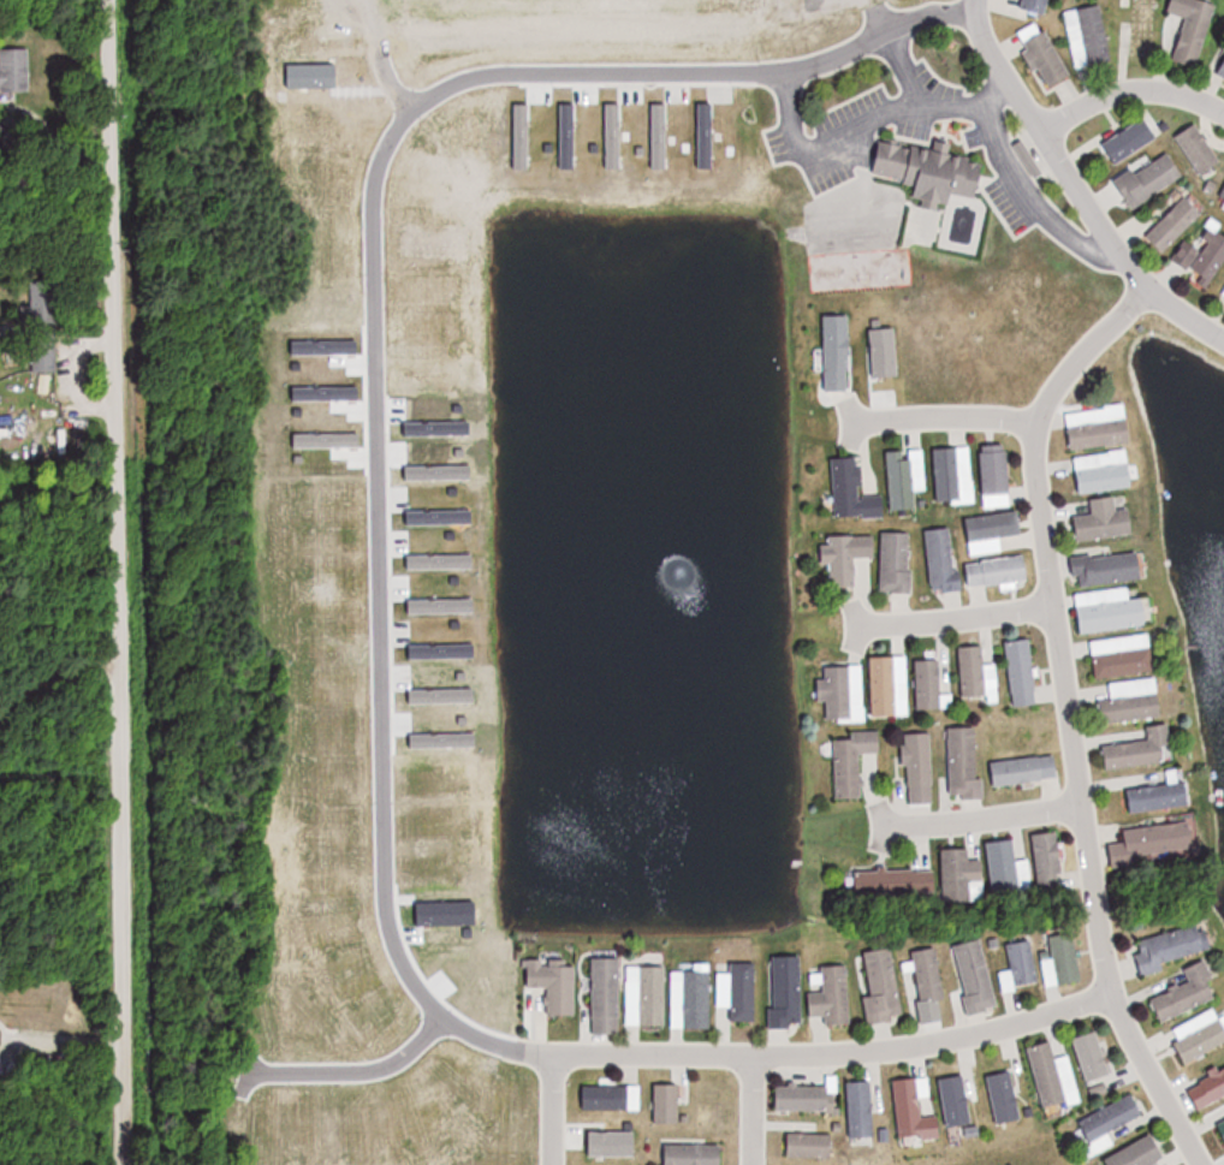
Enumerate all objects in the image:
road: (953, 6)
road: (975, 6)
building: (1036, 6)
building: (1143, 28)
building: (1193, 28)
building: (1088, 36)
building: (1042, 54)
building: (13, 70)
building: (1220, 70)
road: (908, 79)
road: (1129, 91)
building: (1130, 141)
road: (809, 144)
building: (1198, 149)
road: (1054, 154)
building: (931, 172)
building: (1149, 179)
road: (1023, 182)
building: (1222, 194)
building: (1175, 224)
building: (1204, 252)
building: (1223, 295)
road: (1186, 314)
building: (42, 325)
road: (346, 329)
road: (945, 417)
building: (1099, 427)
building: (1104, 470)
building: (953, 474)
building: (996, 475)
building: (904, 476)
building: (854, 491)
building: (1106, 518)
building: (992, 529)
building: (849, 557)
building: (943, 559)
building: (896, 561)
building: (1109, 566)
building: (997, 570)
road: (112, 582)
building: (1111, 608)
road: (957, 617)
building: (1123, 654)
road: (44, 659)
building: (973, 671)
building: (1022, 671)
building: (929, 683)
building: (883, 685)
building: (843, 691)
building: (1131, 701)
road: (1068, 717)
building: (1142, 749)
building: (854, 761)
building: (964, 765)
building: (919, 767)
building: (1023, 769)
building: (1161, 795)
road: (984, 818)
building: (1157, 842)
building: (1048, 861)
building: (1004, 867)
building: (961, 875)
building: (895, 882)
building: (1170, 946)
building: (1062, 959)
building: (1020, 965)
building: (928, 974)
building: (975, 975)
building: (555, 983)
building: (881, 985)
building: (739, 991)
building: (786, 991)
building: (1188, 992)
building: (605, 994)
building: (832, 997)
building: (691, 999)
building: (1200, 1033)
road: (802, 1056)
building: (1093, 1056)
road: (329, 1059)
building: (1047, 1074)
building: (1208, 1089)
building: (955, 1094)
building: (612, 1096)
building: (807, 1096)
building: (666, 1104)
building: (908, 1106)
building: (860, 1107)
road: (521, 1108)
road: (751, 1111)
building: (1110, 1121)
building: (1222, 1125)
building: (809, 1145)
building: (690, 1153)
building: (1139, 1153)

